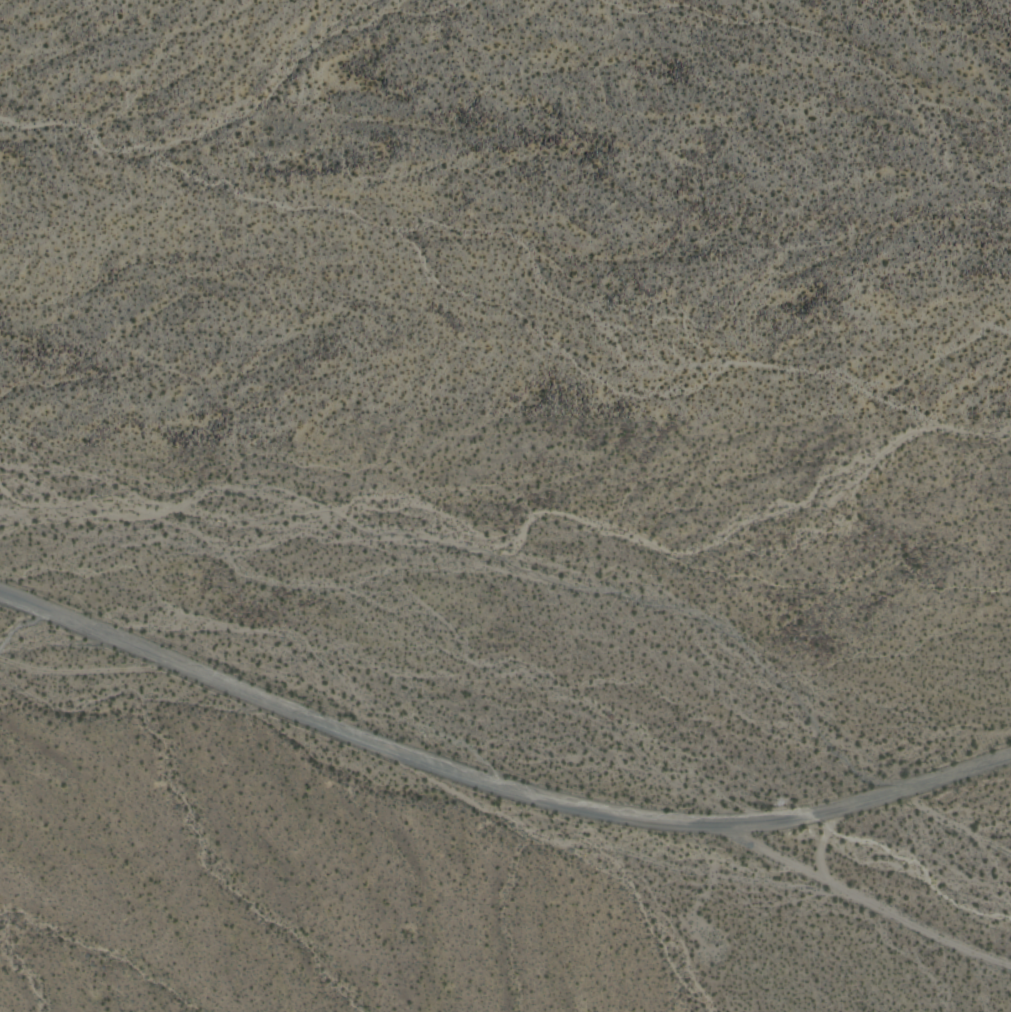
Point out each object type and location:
road: (82, 667)
road: (494, 785)
road: (862, 897)

